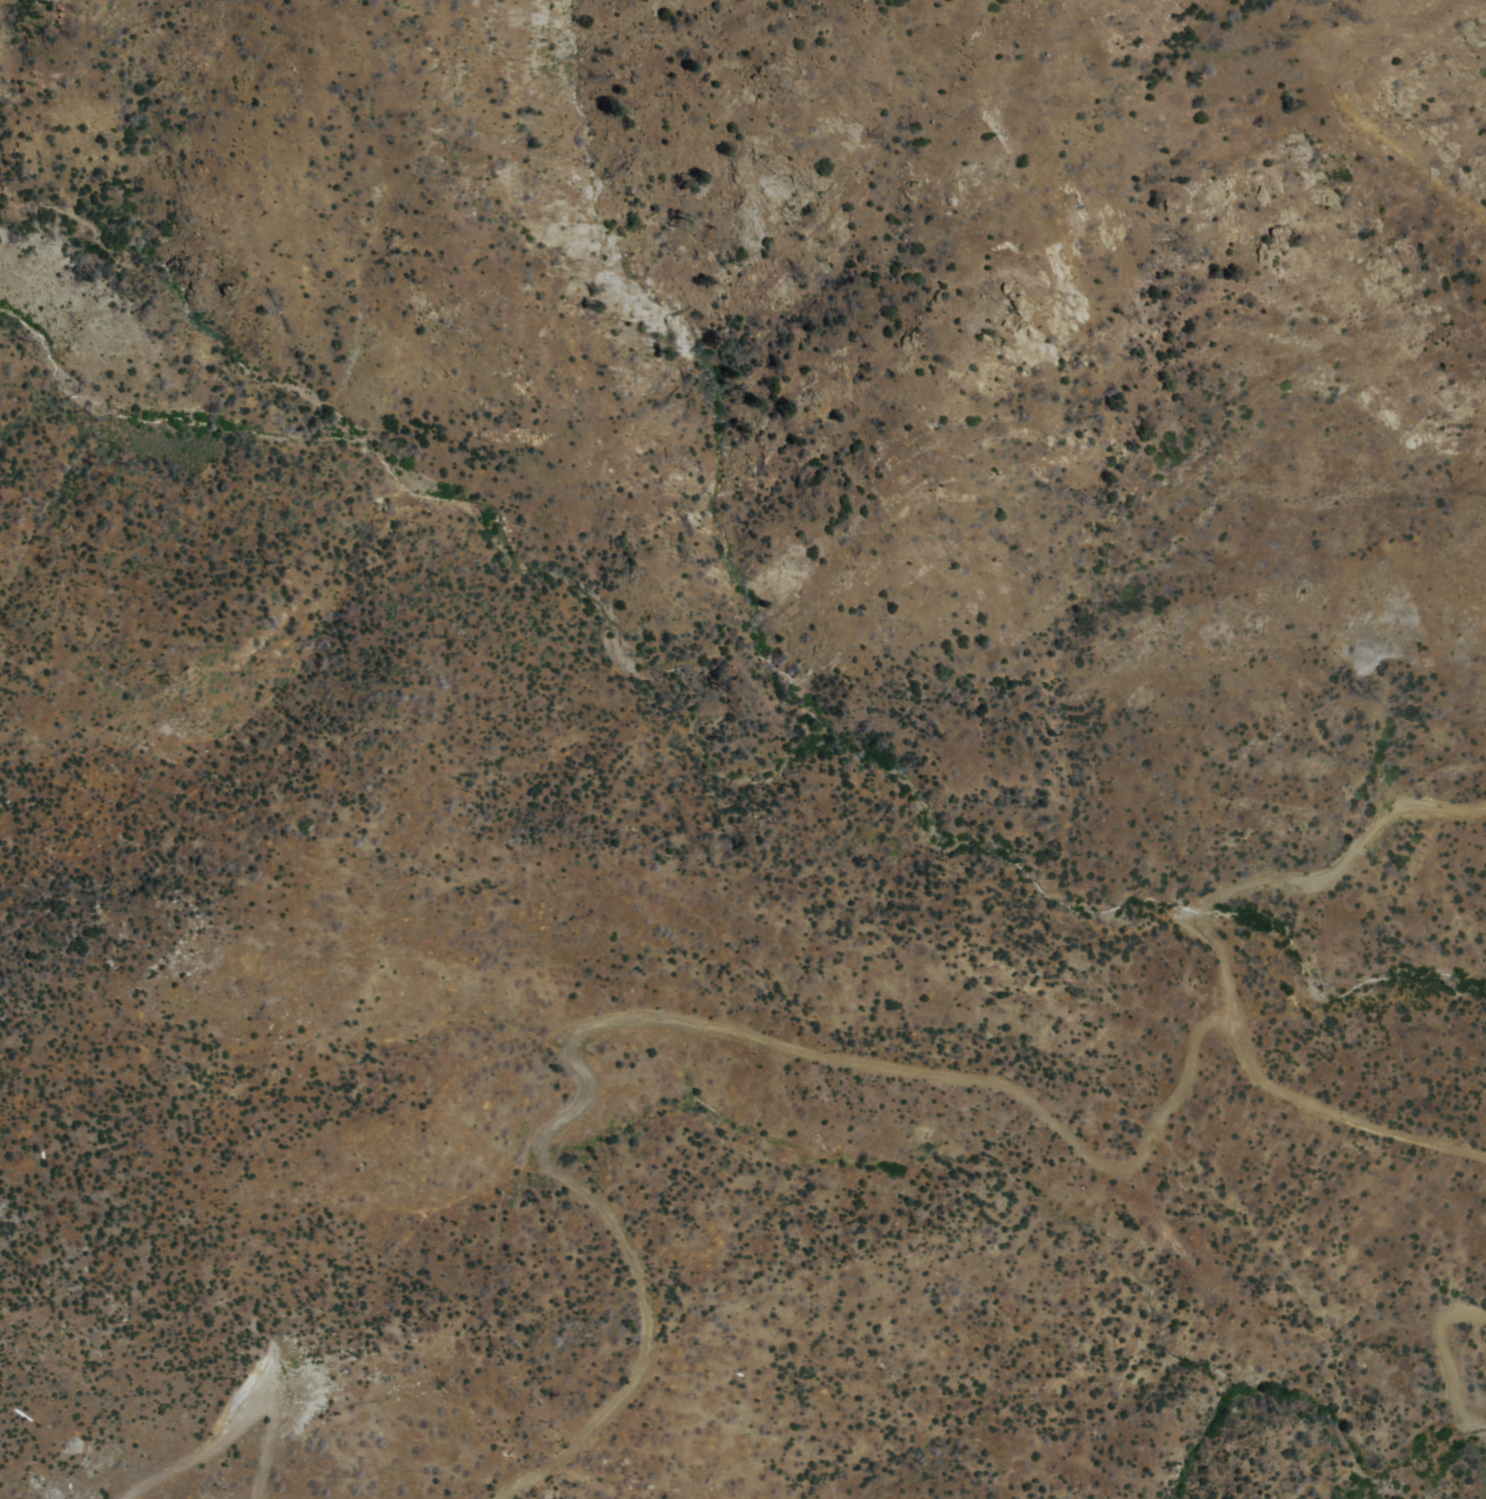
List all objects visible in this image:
road: (1351, 858)
road: (854, 1057)
road: (1286, 1086)
road: (1455, 1353)
road: (634, 1359)
road: (234, 1428)

